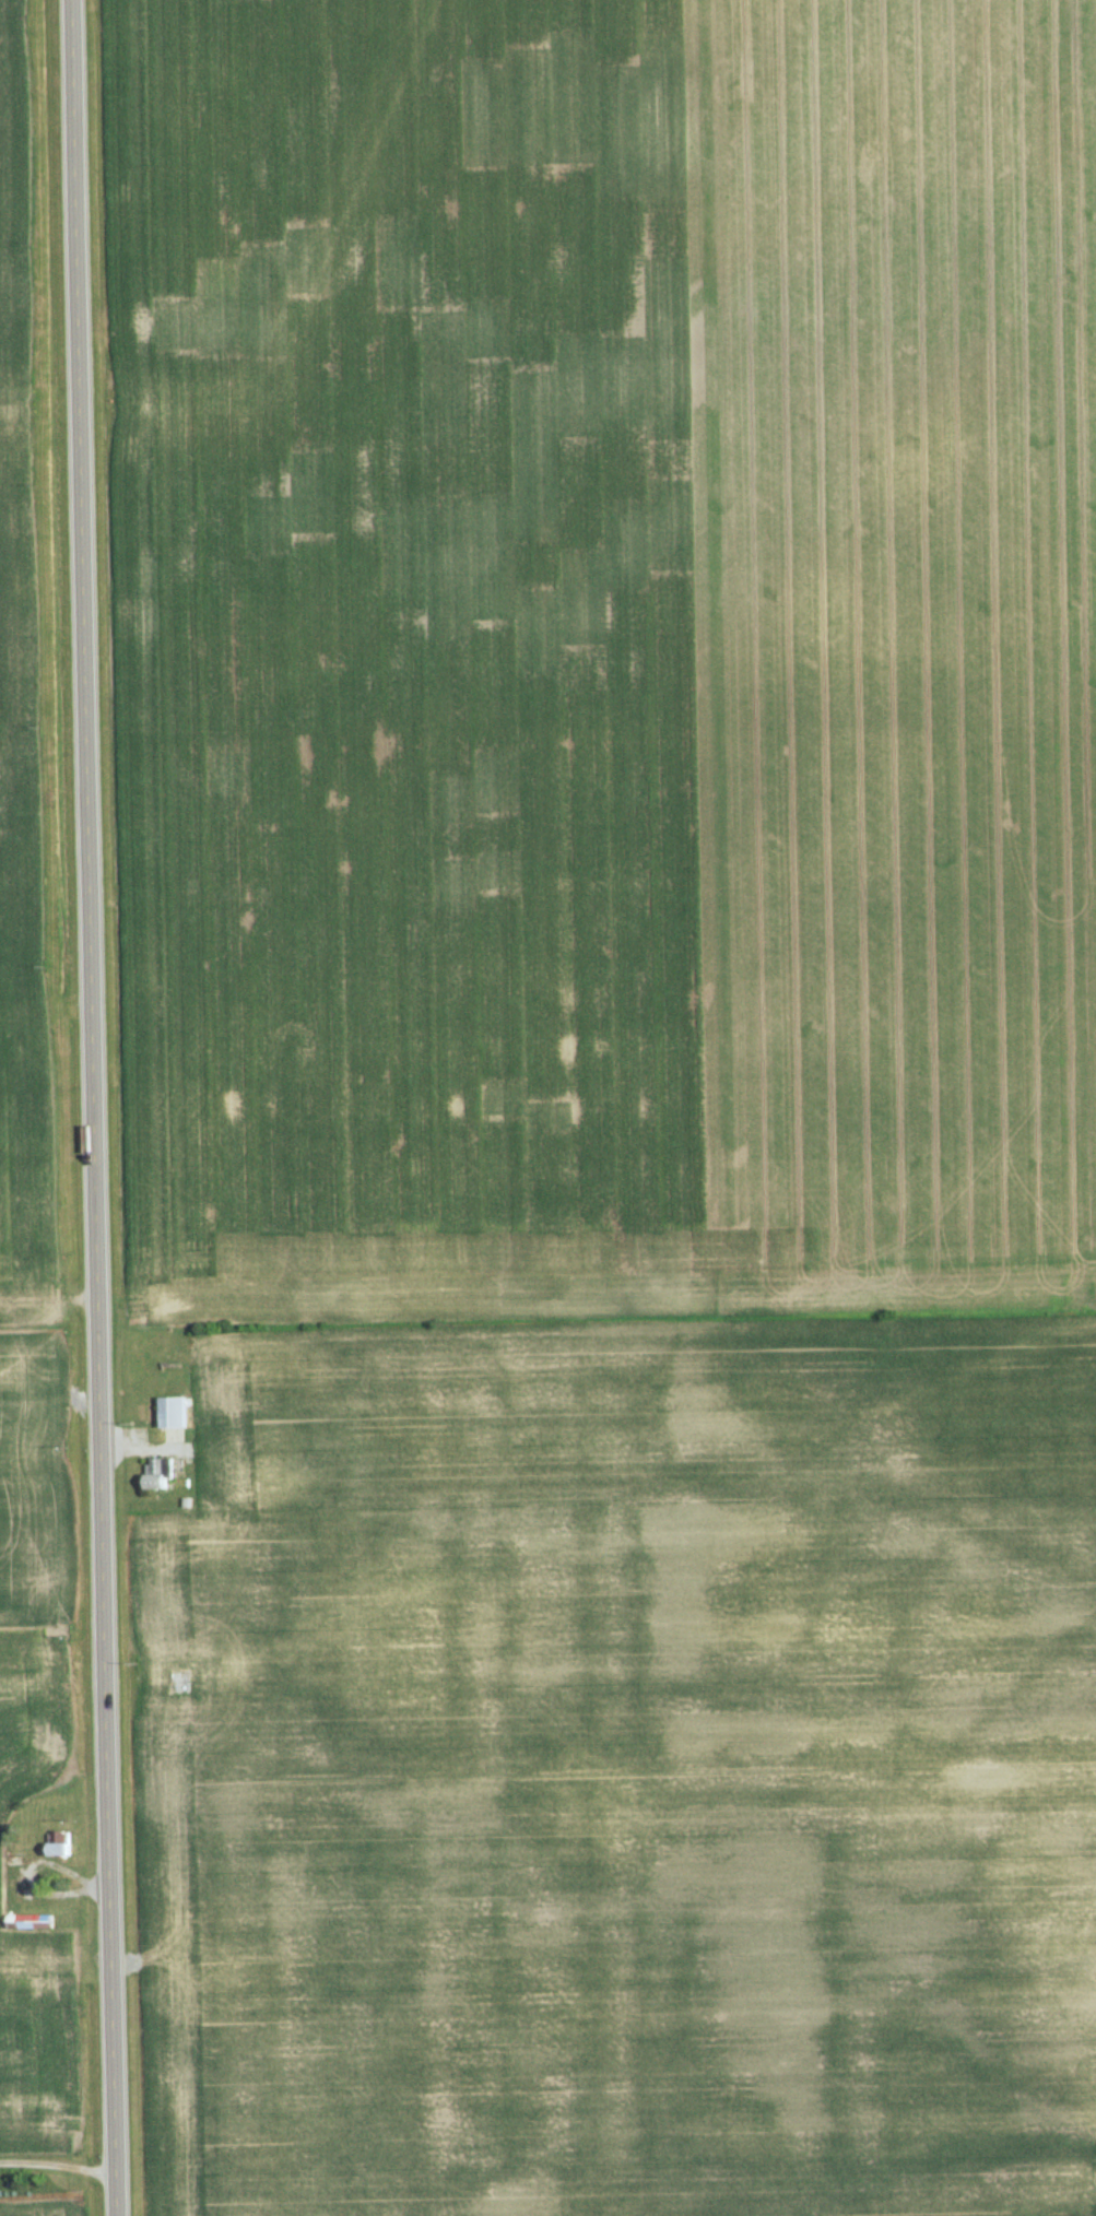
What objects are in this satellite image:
crop: (603, 656)
crop: (17, 752)
road: (94, 1108)
building: (174, 1413)
crop: (31, 1600)
crop: (626, 1769)
crop: (32, 2036)
road: (58, 2166)
crop: (40, 2211)

